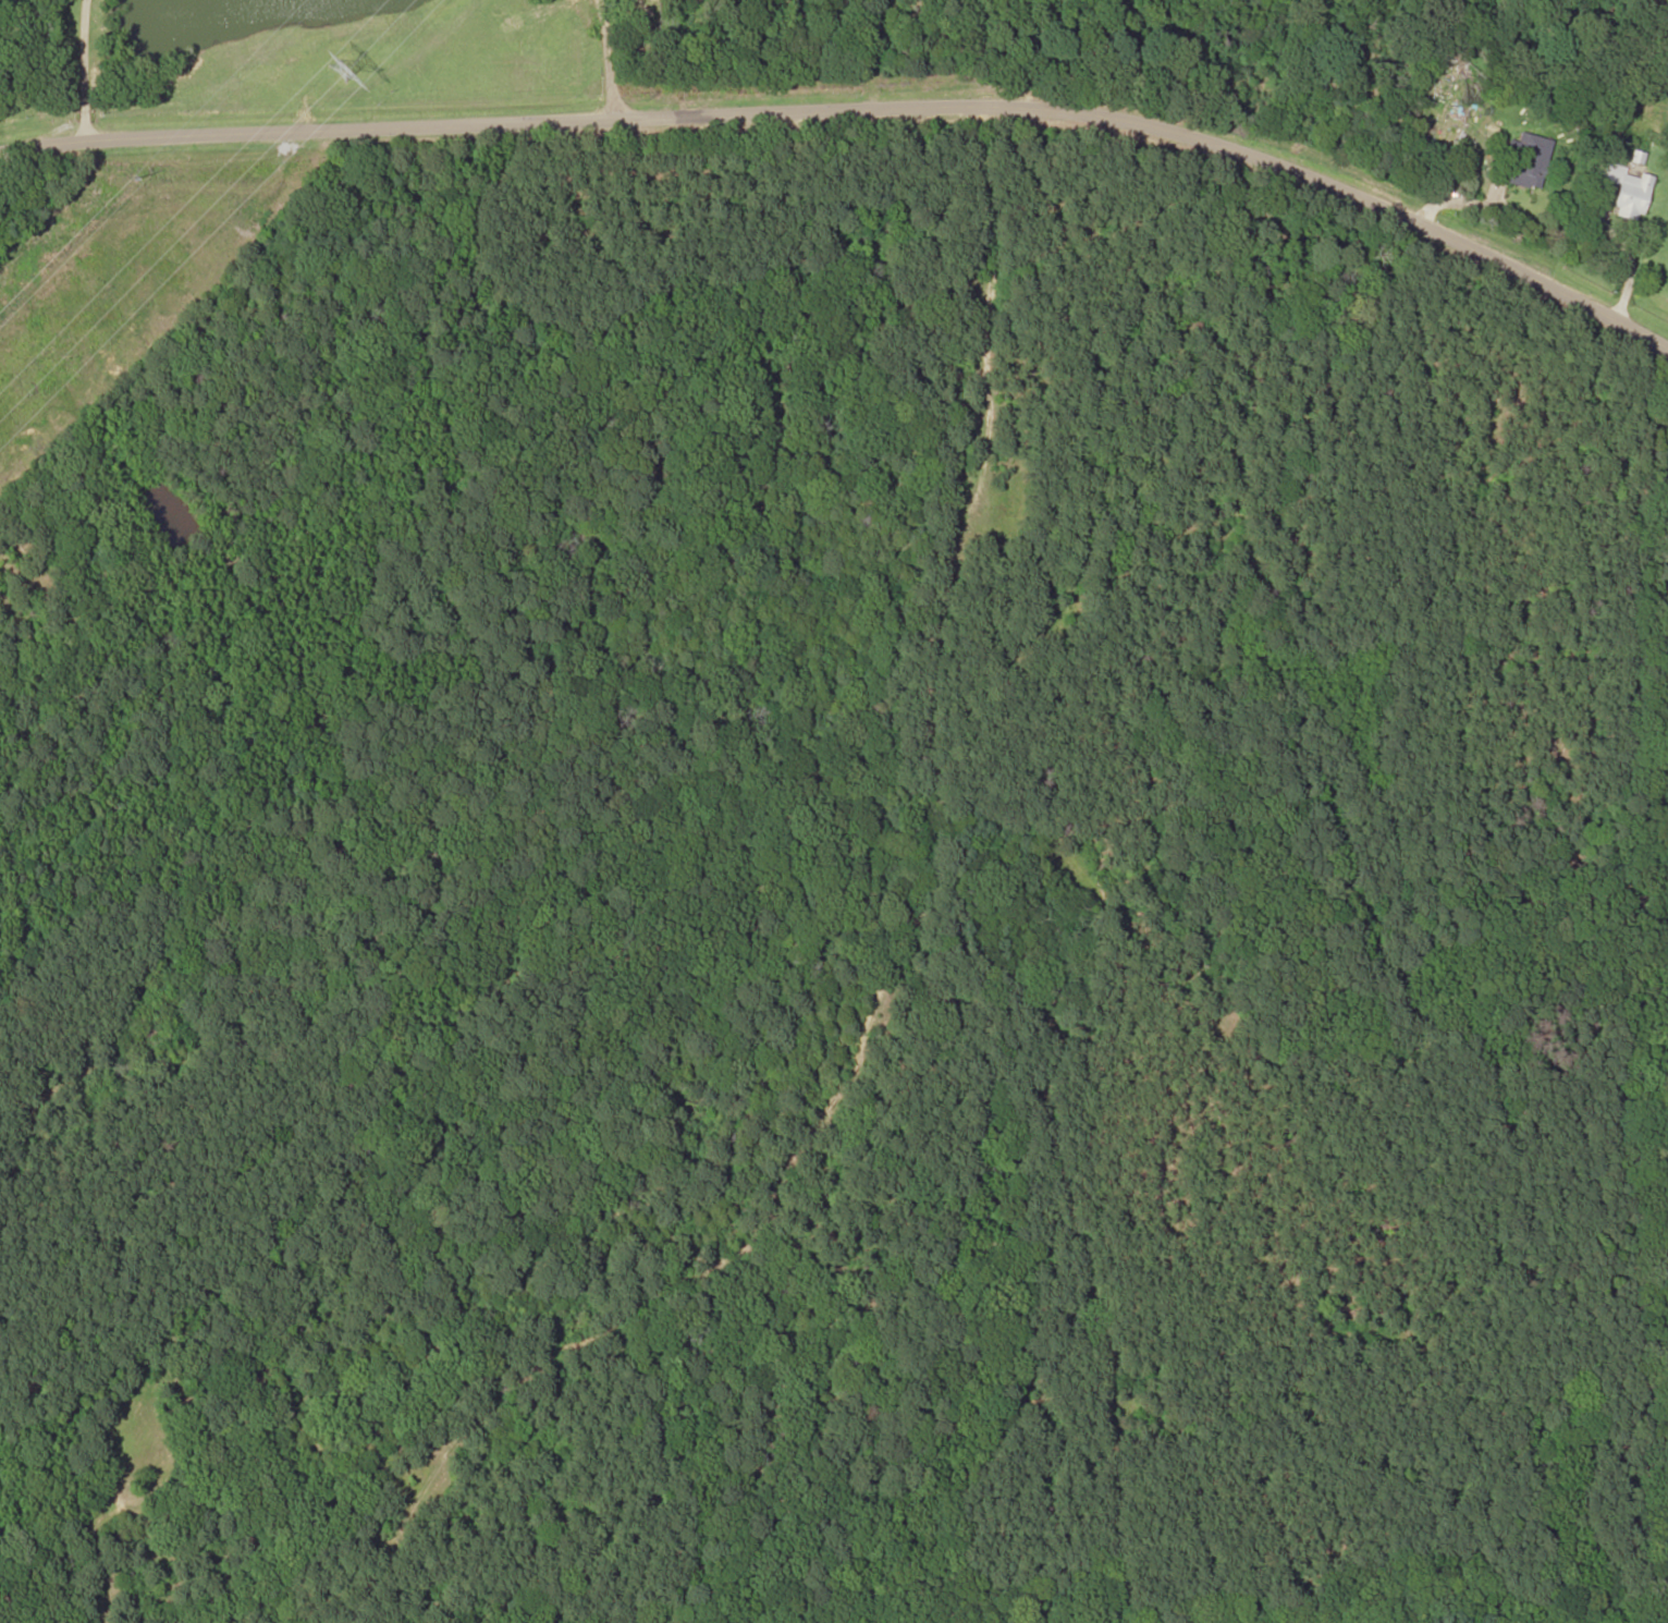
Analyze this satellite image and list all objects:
power tower: (349, 58)
road: (857, 113)
building: (1522, 162)
building: (1623, 191)

